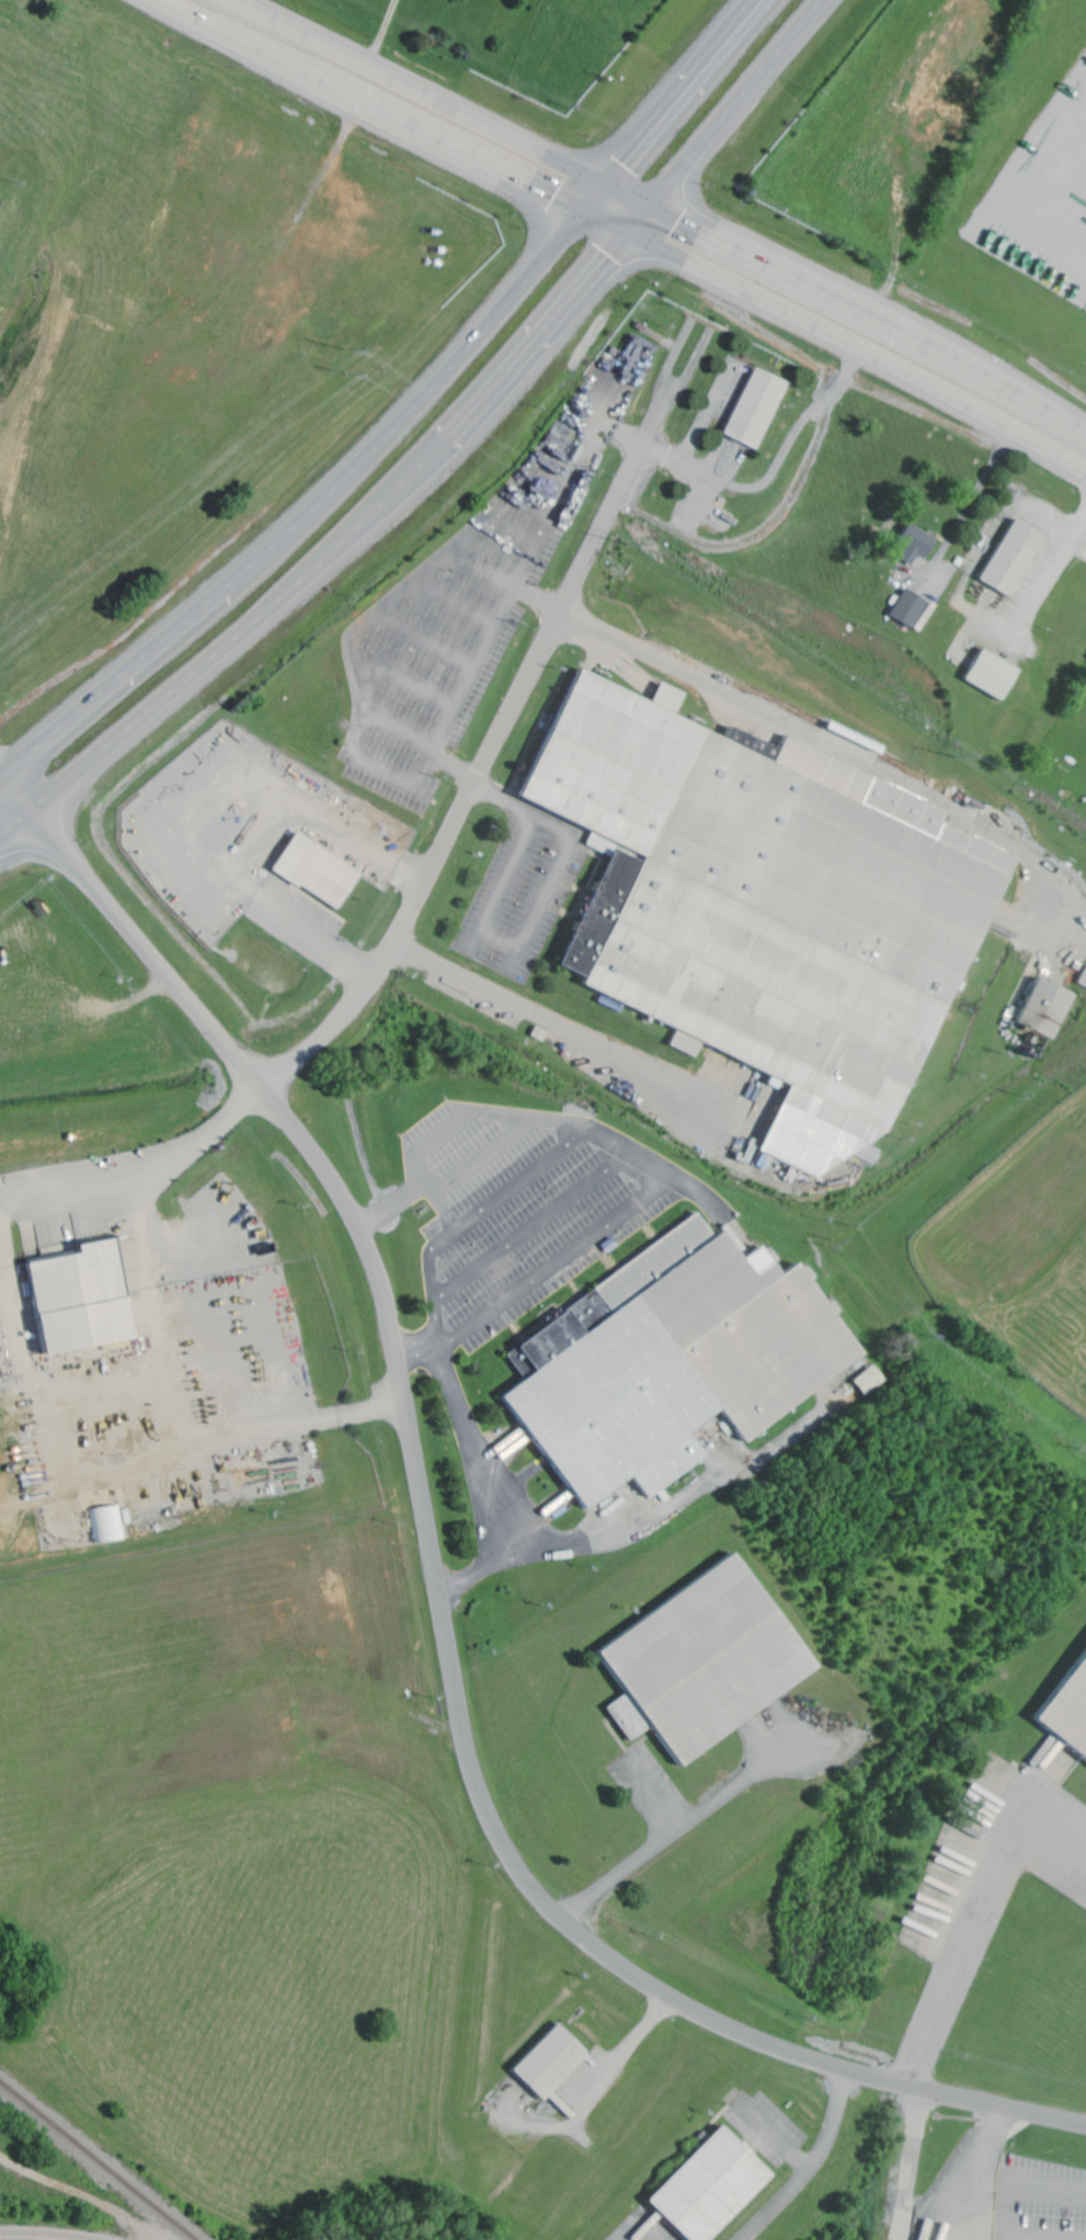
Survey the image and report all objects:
road: (236, 9)
road: (382, 42)
road: (643, 222)
road: (679, 388)
building: (754, 410)
road: (408, 415)
road: (444, 450)
building: (915, 546)
building: (1011, 560)
building: (908, 610)
building: (990, 676)
road: (506, 724)
road: (0, 777)
building: (315, 871)
building: (765, 907)
building: (1083, 979)
building: (1043, 1009)
road: (162, 1168)
building: (79, 1299)
building: (672, 1361)
road: (180, 1412)
building: (108, 1524)
road: (435, 1582)
building: (702, 1662)
building: (1067, 1716)
building: (548, 2064)
railway: (95, 2161)
building: (709, 2187)
railway: (44, 2235)

